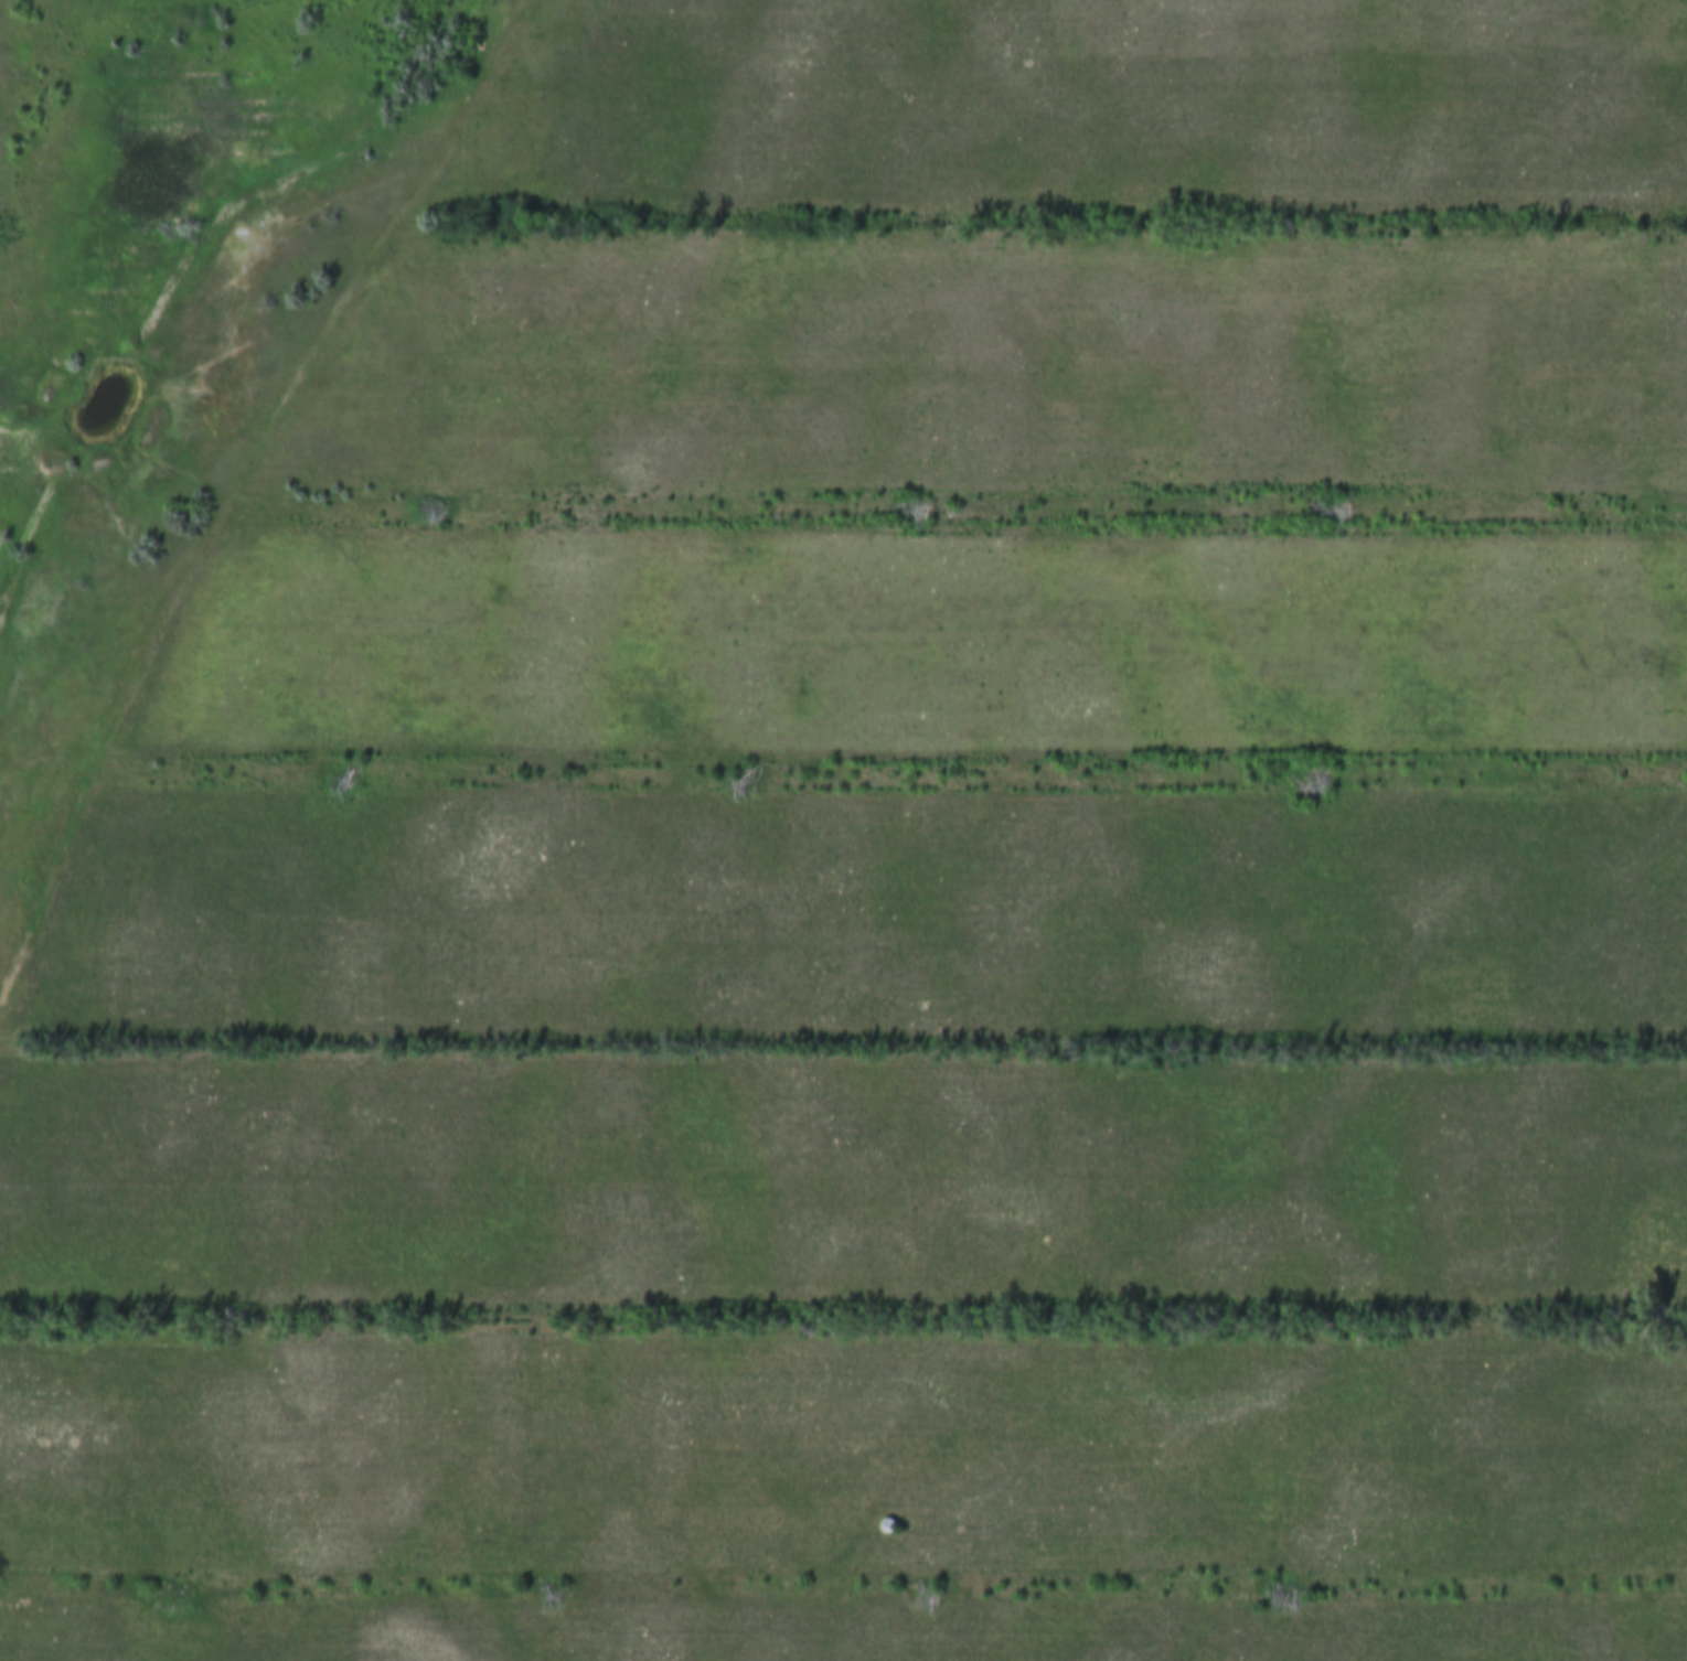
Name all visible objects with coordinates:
building: (890, 1528)

